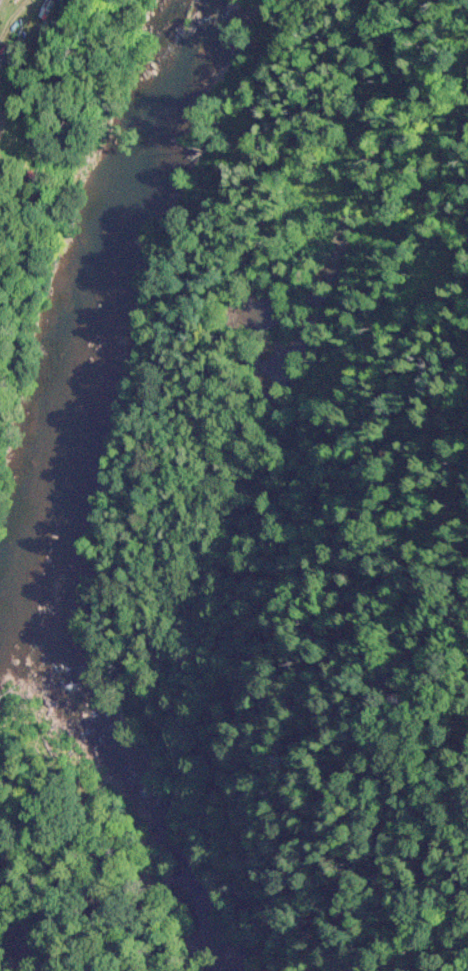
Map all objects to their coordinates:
river: (58, 490)

